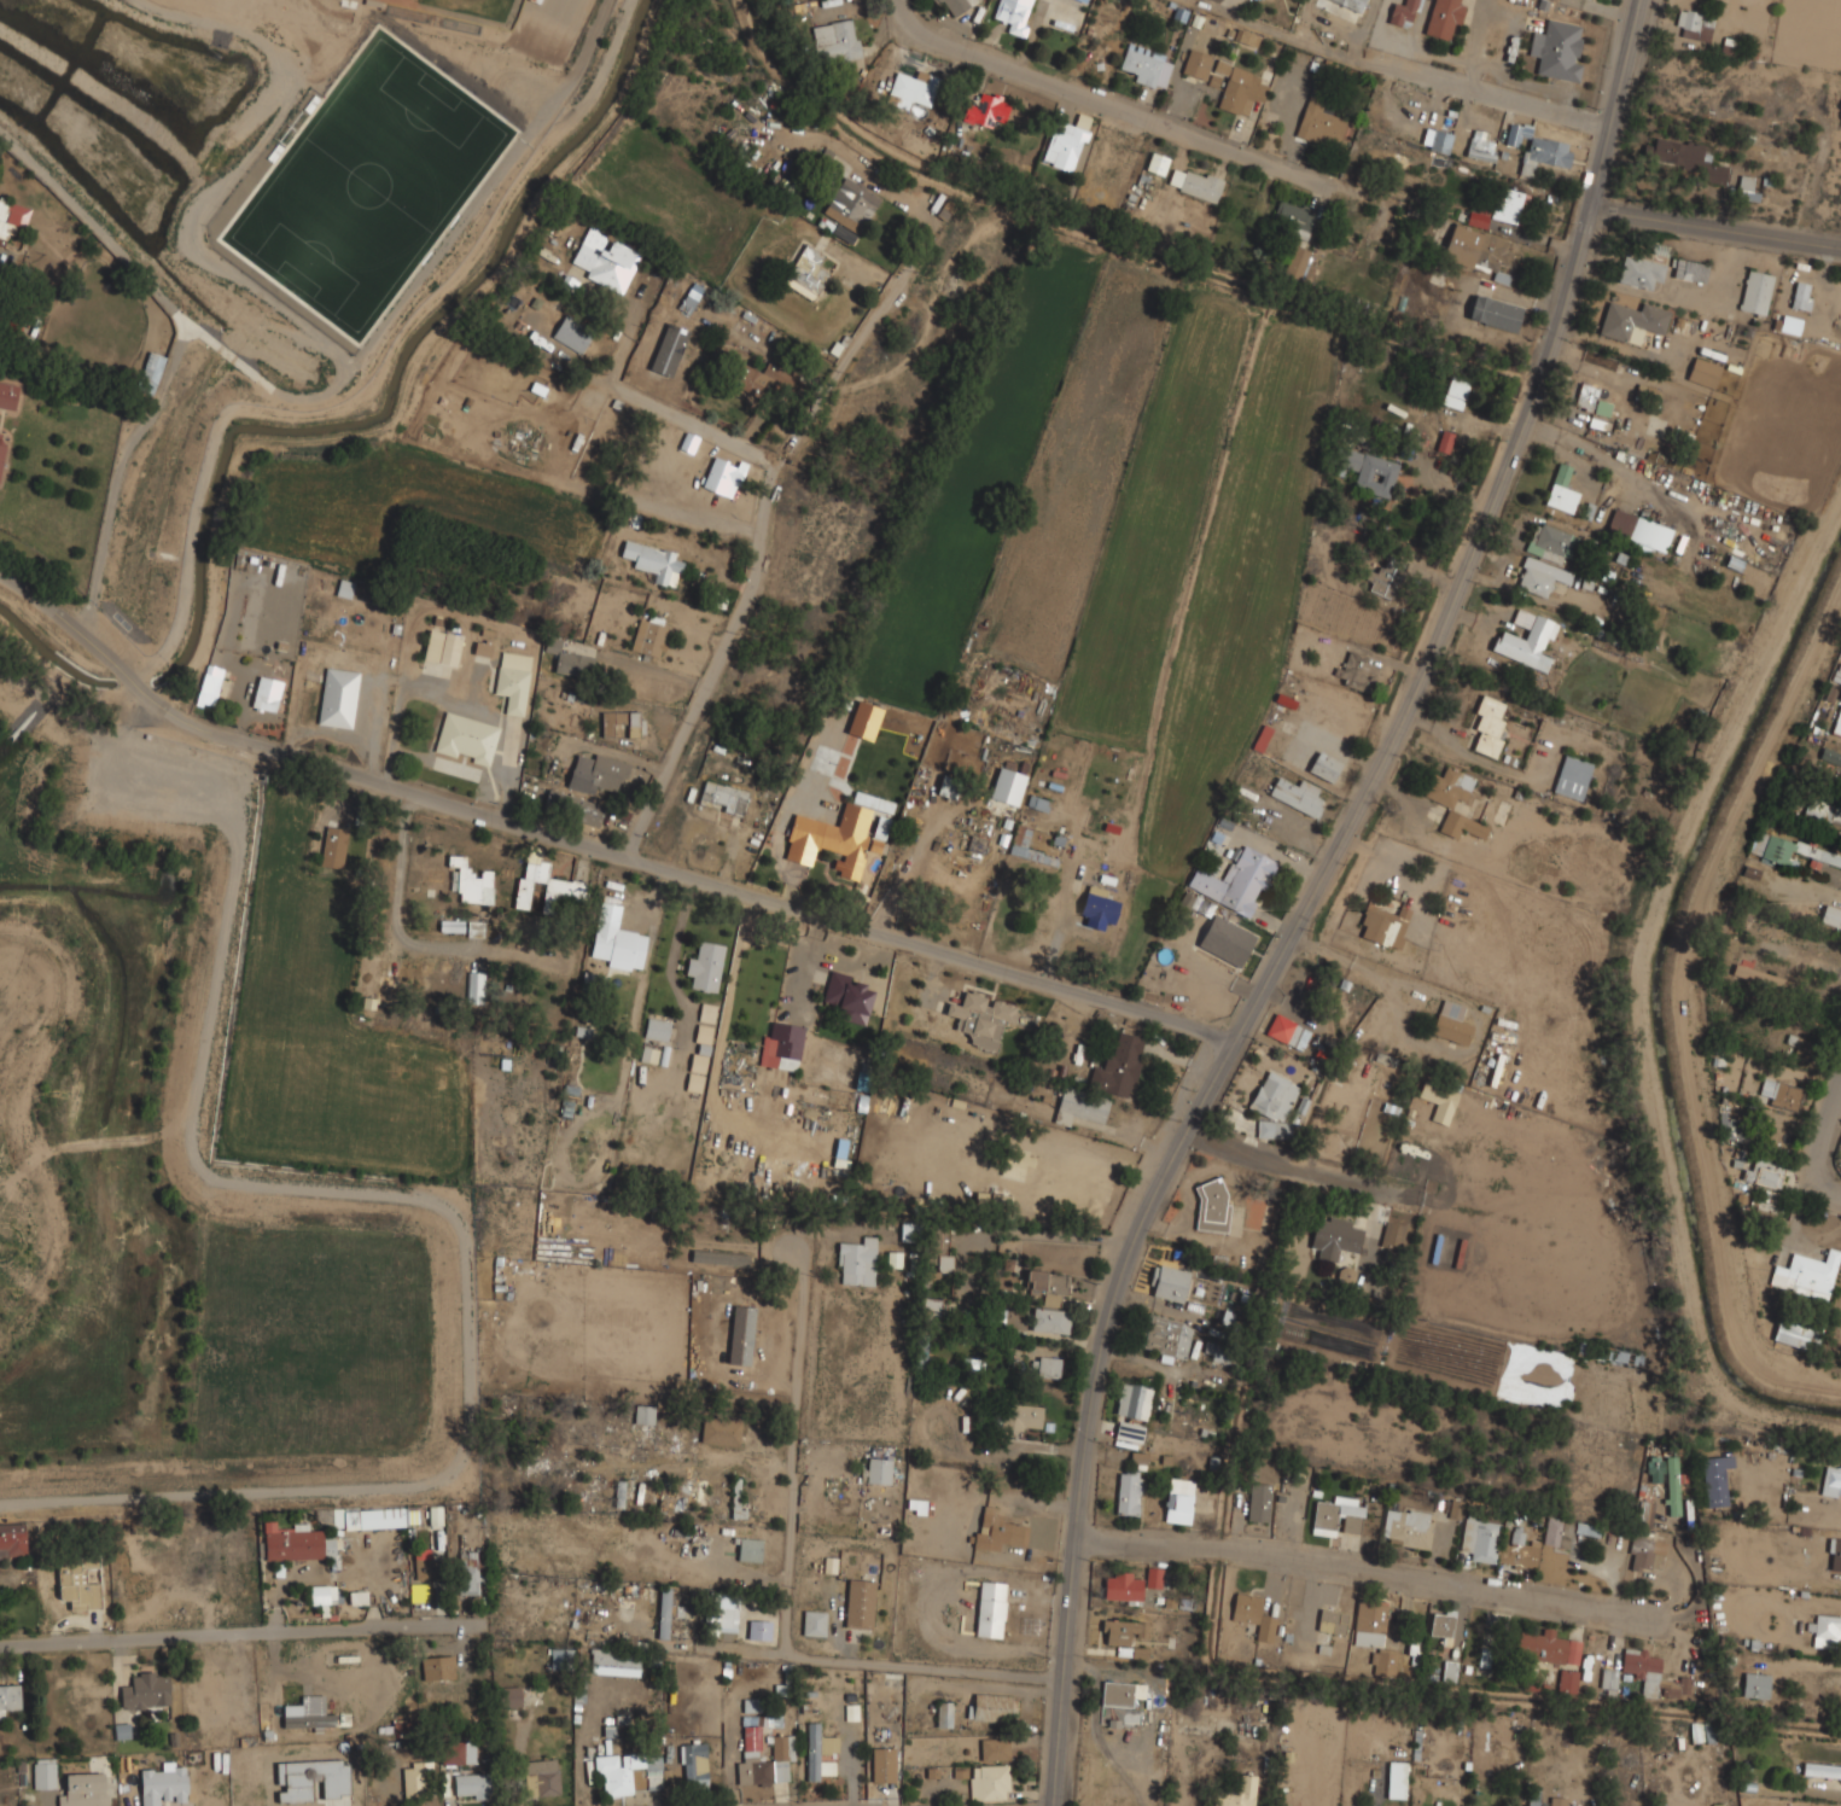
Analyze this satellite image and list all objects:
building: (1082, 0)
road: (205, 1)
building: (1352, 4)
building: (955, 6)
park: (465, 10)
building: (1402, 11)
building: (1013, 14)
building: (1444, 18)
park: (552, 19)
building: (1694, 25)
building: (835, 41)
building: (1557, 51)
building: (1196, 64)
building: (1146, 69)
road: (1417, 72)
road: (593, 89)
building: (911, 91)
building: (1240, 91)
road: (1117, 105)
road: (534, 109)
building: (985, 110)
building: (1323, 126)
building: (1516, 133)
building: (1066, 141)
building: (1439, 141)
building: (1480, 146)
building: (1544, 153)
building: (1684, 158)
building: (1157, 163)
building: (1194, 183)
park: (367, 185)
building: (1747, 188)
building: (850, 205)
building: (1505, 205)
building: (1476, 217)
building: (11, 220)
building: (1293, 220)
road: (1715, 223)
road: (458, 225)
building: (1476, 249)
building: (605, 261)
building: (1295, 263)
building: (1689, 270)
building: (806, 273)
building: (1639, 273)
building: (1755, 291)
building: (1801, 295)
building: (691, 298)
building: (1495, 313)
building: (1632, 321)
road: (292, 332)
building: (571, 333)
road: (175, 355)
road: (231, 359)
building: (1703, 372)
building: (150, 373)
building: (762, 379)
building: (1455, 392)
building: (7, 396)
building: (1590, 398)
road: (662, 407)
building: (1600, 415)
building: (1445, 442)
building: (2, 447)
building: (1367, 471)
building: (723, 477)
building: (1561, 489)
road: (705, 512)
building: (1638, 530)
building: (1546, 541)
building: (653, 561)
road: (5, 563)
road: (758, 563)
building: (1539, 577)
building: (1385, 578)
building: (648, 637)
building: (1525, 640)
building: (552, 646)
building: (442, 647)
building: (483, 649)
building: (573, 664)
building: (513, 681)
building: (210, 687)
building: (267, 694)
building: (338, 698)
building: (864, 721)
building: (1837, 722)
building: (1488, 723)
building: (633, 724)
building: (1263, 735)
building: (466, 738)
building: (1830, 757)
building: (1328, 768)
building: (598, 774)
building: (1572, 776)
building: (1007, 786)
building: (1297, 796)
building: (723, 797)
building: (1445, 804)
building: (578, 809)
building: (1818, 809)
building: (1020, 838)
building: (831, 839)
building: (333, 846)
building: (372, 847)
road: (595, 849)
building: (1785, 849)
building: (471, 881)
building: (1236, 881)
building: (543, 886)
road: (1315, 898)
road: (400, 907)
building: (1831, 916)
building: (1382, 925)
building: (613, 939)
building: (1227, 940)
road: (676, 943)
building: (705, 965)
road: (1362, 965)
building: (1758, 977)
building: (367, 980)
building: (474, 988)
building: (846, 992)
building: (1820, 1008)
building: (706, 1013)
building: (981, 1018)
building: (1450, 1023)
building: (656, 1029)
building: (1282, 1029)
building: (780, 1044)
building: (648, 1054)
building: (698, 1059)
building: (1118, 1066)
road: (619, 1089)
building: (1432, 1094)
building: (1781, 1094)
building: (1272, 1097)
building: (1078, 1106)
building: (1730, 1126)
building: (1272, 1130)
road: (1824, 1132)
building: (1736, 1159)
building: (1015, 1161)
building: (1399, 1164)
road: (1297, 1169)
building: (1760, 1176)
road: (1830, 1188)
building: (1054, 1196)
building: (1211, 1205)
building: (908, 1231)
building: (1392, 1235)
building: (1335, 1239)
building: (719, 1258)
building: (856, 1262)
building: (1806, 1275)
building: (1167, 1282)
building: (1047, 1287)
building: (930, 1305)
building: (693, 1317)
building: (1050, 1319)
building: (739, 1333)
building: (1796, 1335)
building: (1166, 1336)
building: (1048, 1367)
building: (1132, 1400)
building: (643, 1414)
building: (1023, 1417)
building: (719, 1432)
building: (1129, 1432)
road: (793, 1439)
building: (1654, 1461)
building: (874, 1469)
building: (1714, 1479)
building: (1831, 1479)
building: (1672, 1485)
building: (618, 1493)
building: (1128, 1493)
building: (1177, 1499)
building: (1258, 1502)
building: (735, 1509)
building: (1456, 1509)
building: (1645, 1513)
building: (435, 1515)
building: (336, 1517)
building: (380, 1517)
building: (1335, 1517)
building: (1406, 1526)
building: (995, 1530)
building: (1586, 1530)
building: (1557, 1532)
building: (12, 1540)
building: (292, 1542)
building: (1495, 1543)
building: (747, 1549)
building: (1645, 1554)
building: (1834, 1554)
building: (423, 1563)
building: (233, 1566)
road: (1358, 1569)
building: (466, 1575)
building: (1155, 1578)
building: (78, 1581)
building: (1122, 1586)
building: (319, 1595)
building: (357, 1597)
building: (858, 1603)
building: (990, 1608)
building: (664, 1610)
building: (721, 1613)
building: (1254, 1614)
building: (1332, 1620)
building: (812, 1623)
building: (1441, 1623)
building: (757, 1629)
building: (1825, 1629)
building: (1120, 1630)
road: (219, 1635)
building: (1373, 1635)
building: (1548, 1647)
road: (695, 1648)
building: (1140, 1653)
building: (1485, 1656)
building: (560, 1659)
building: (613, 1662)
road: (922, 1666)
building: (437, 1667)
building: (1642, 1668)
building: (1449, 1670)
building: (1608, 1678)
building: (1567, 1680)
building: (1755, 1684)
building: (206, 1689)
building: (1674, 1689)
building: (146, 1690)
building: (1119, 1693)
building: (509, 1696)
building: (8, 1699)
building: (992, 1707)
building: (943, 1713)
building: (649, 1714)
building: (309, 1720)
building: (121, 1731)
building: (1701, 1731)
building: (782, 1747)
building: (994, 1748)
building: (816, 1749)
building: (458, 1752)
building: (881, 1764)
building: (693, 1765)
building: (1820, 1770)
building: (629, 1772)
building: (42, 1773)
building: (415, 1777)
building: (541, 1777)
building: (1396, 1781)
building: (988, 1782)
building: (163, 1785)
building: (471, 1785)
building: (83, 1790)
building: (1237, 1793)
building: (1556, 1801)

